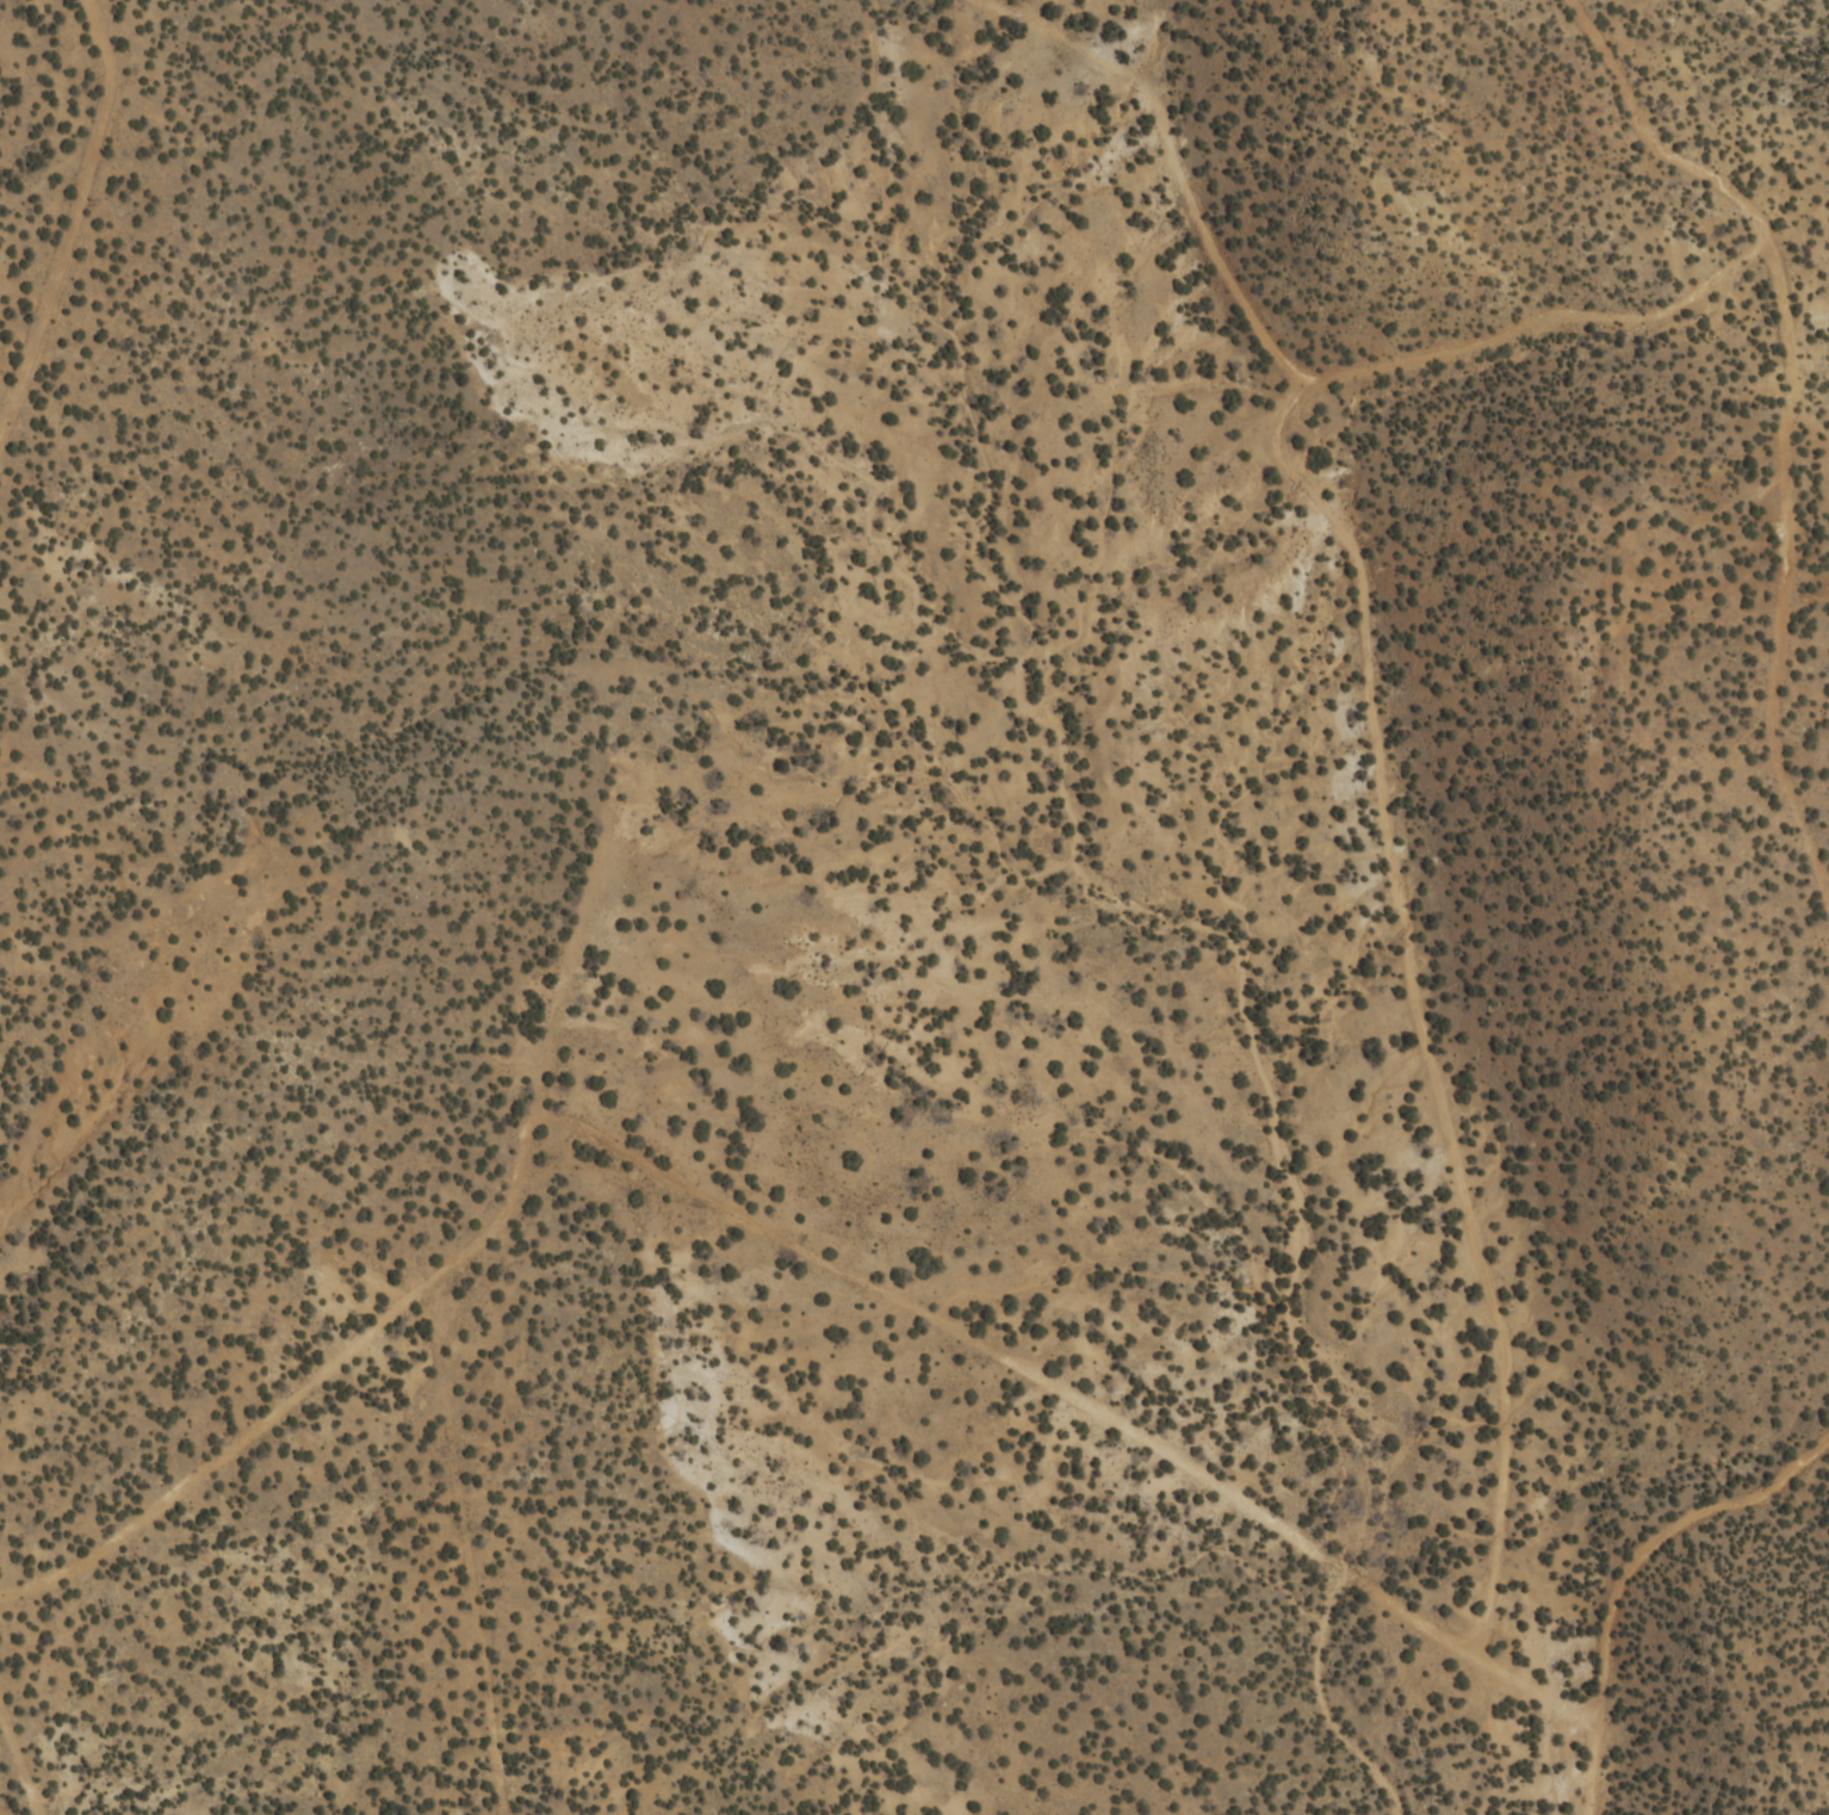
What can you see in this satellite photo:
road: (62, 227)
road: (1323, 774)
road: (707, 1216)
road: (1560, 1711)

